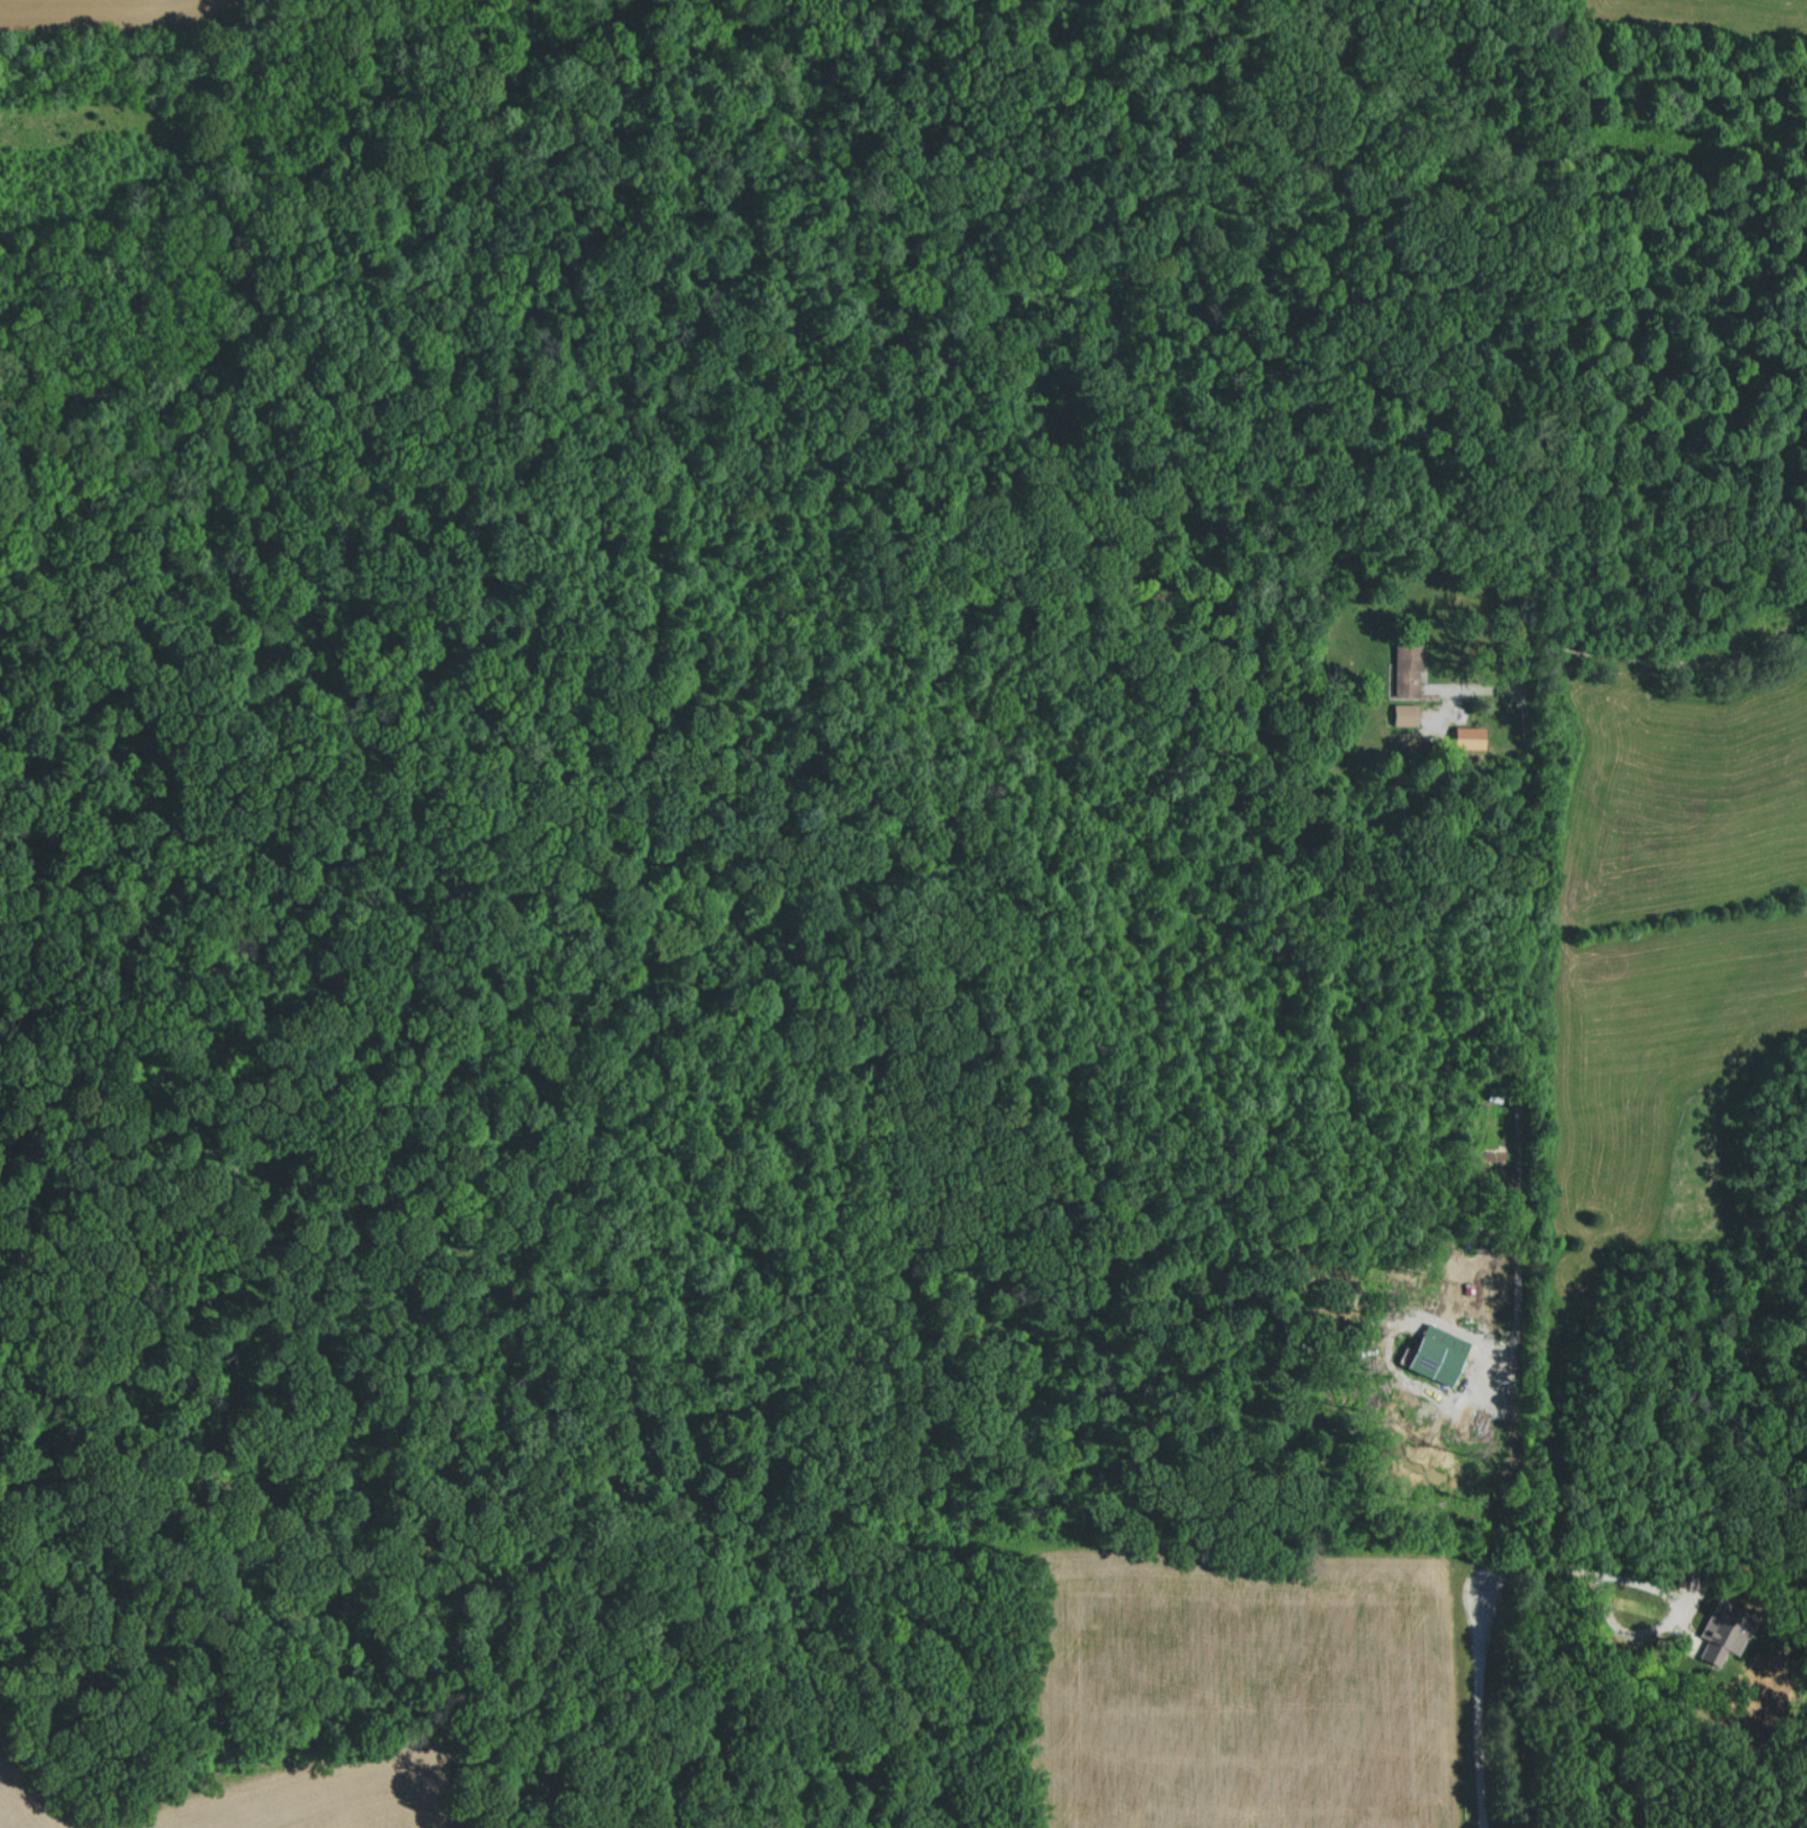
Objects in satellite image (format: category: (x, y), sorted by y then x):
road: (1556, 302)
road: (1675, 611)
building: (1476, 737)
road: (1491, 1713)

